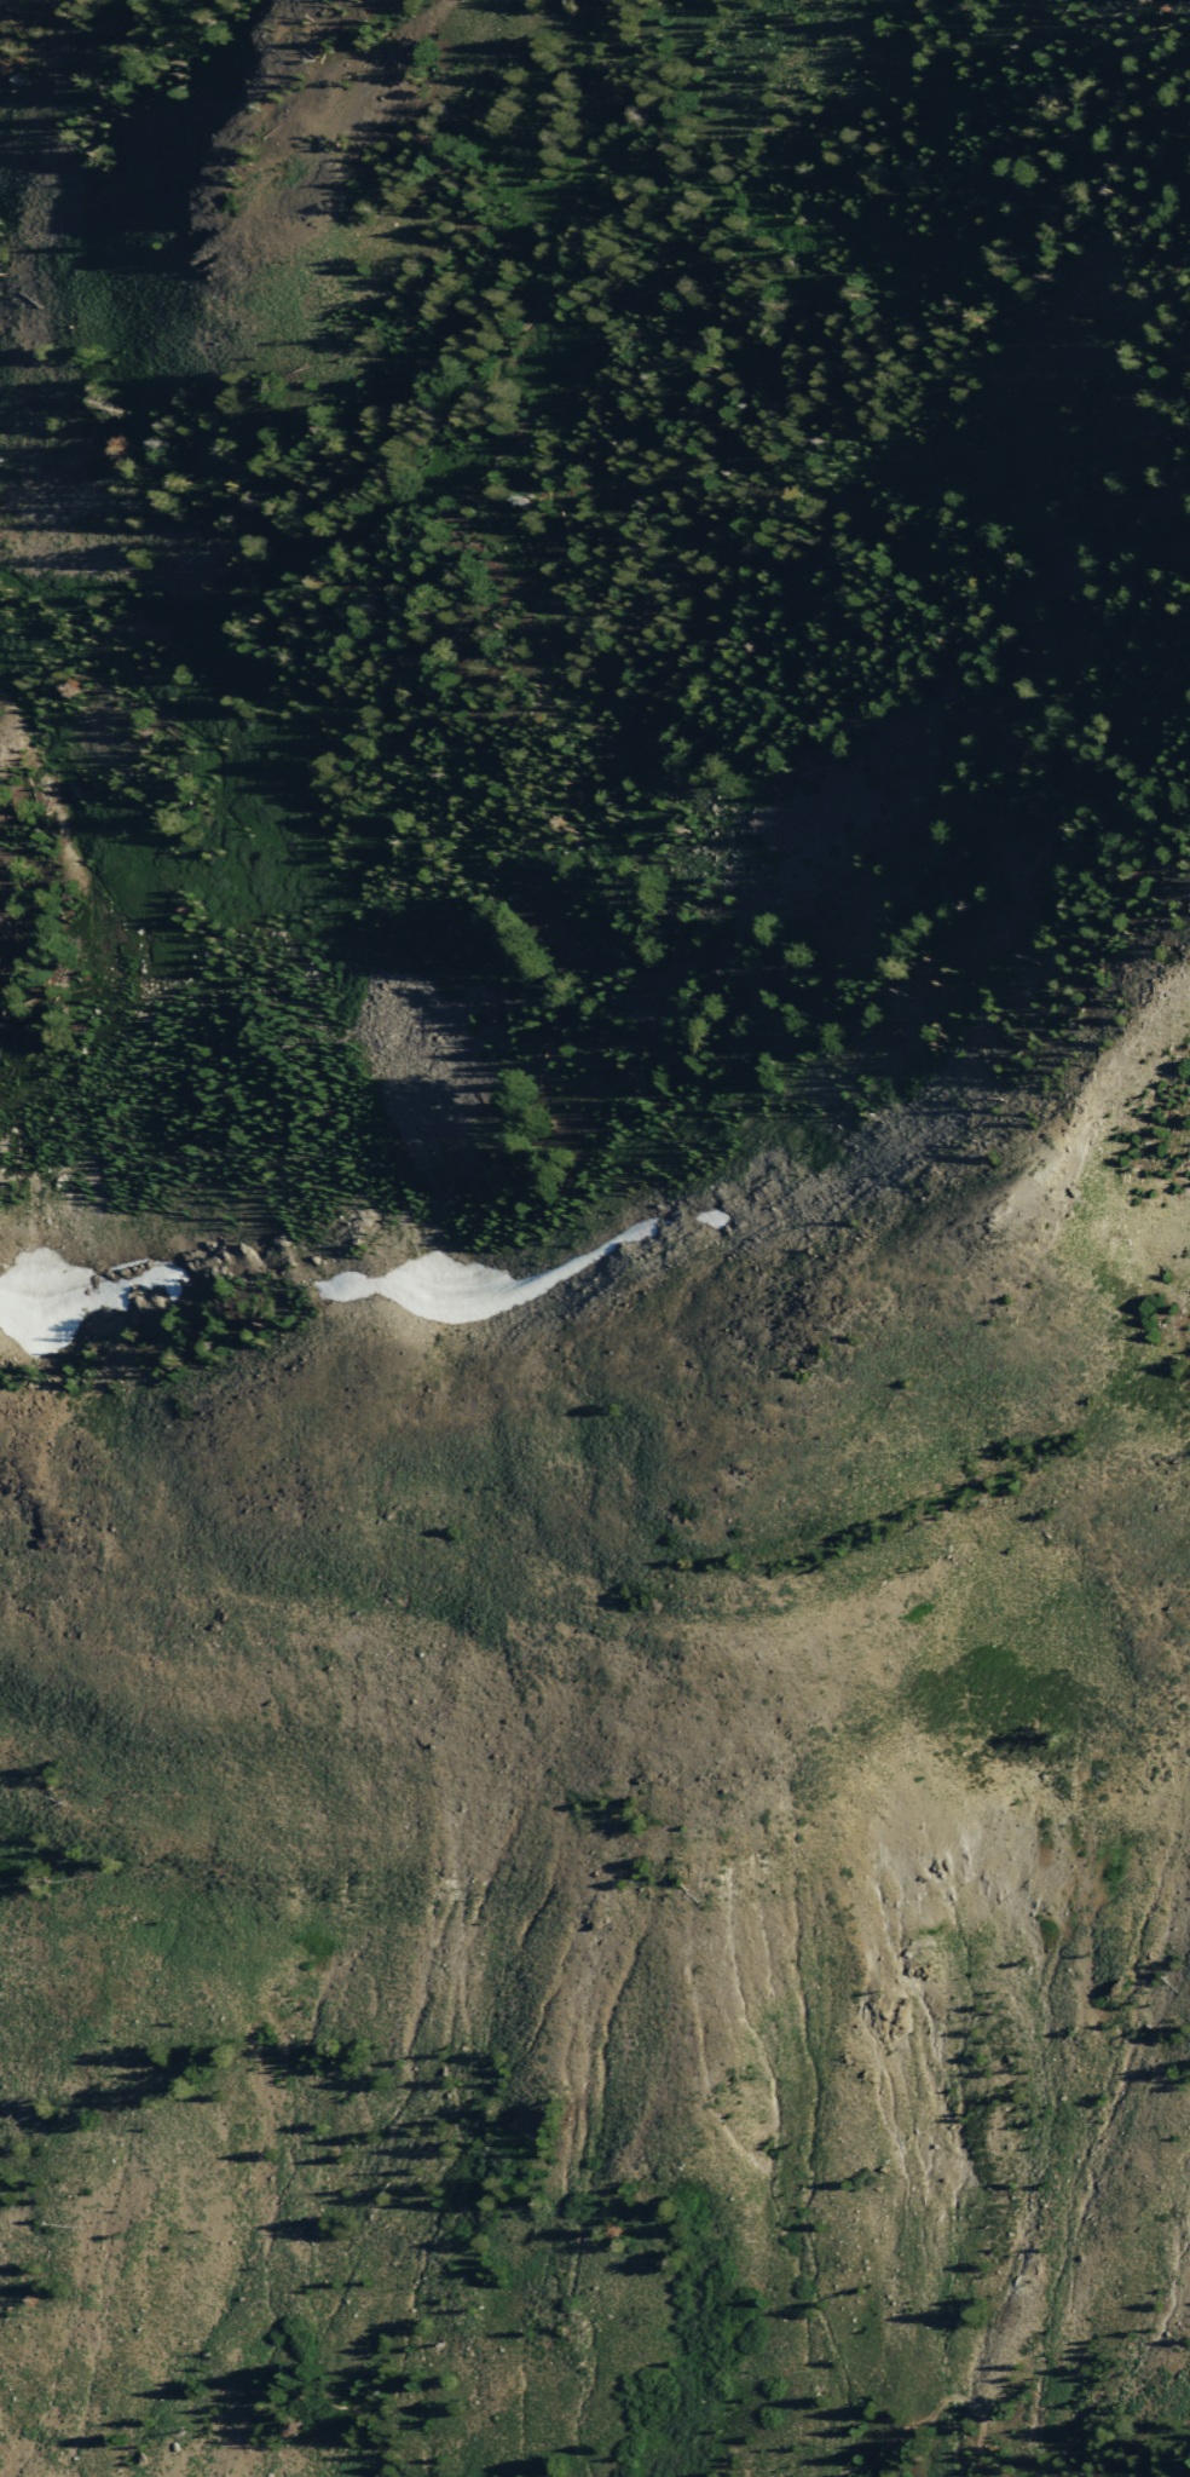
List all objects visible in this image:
road: (940, 2406)

